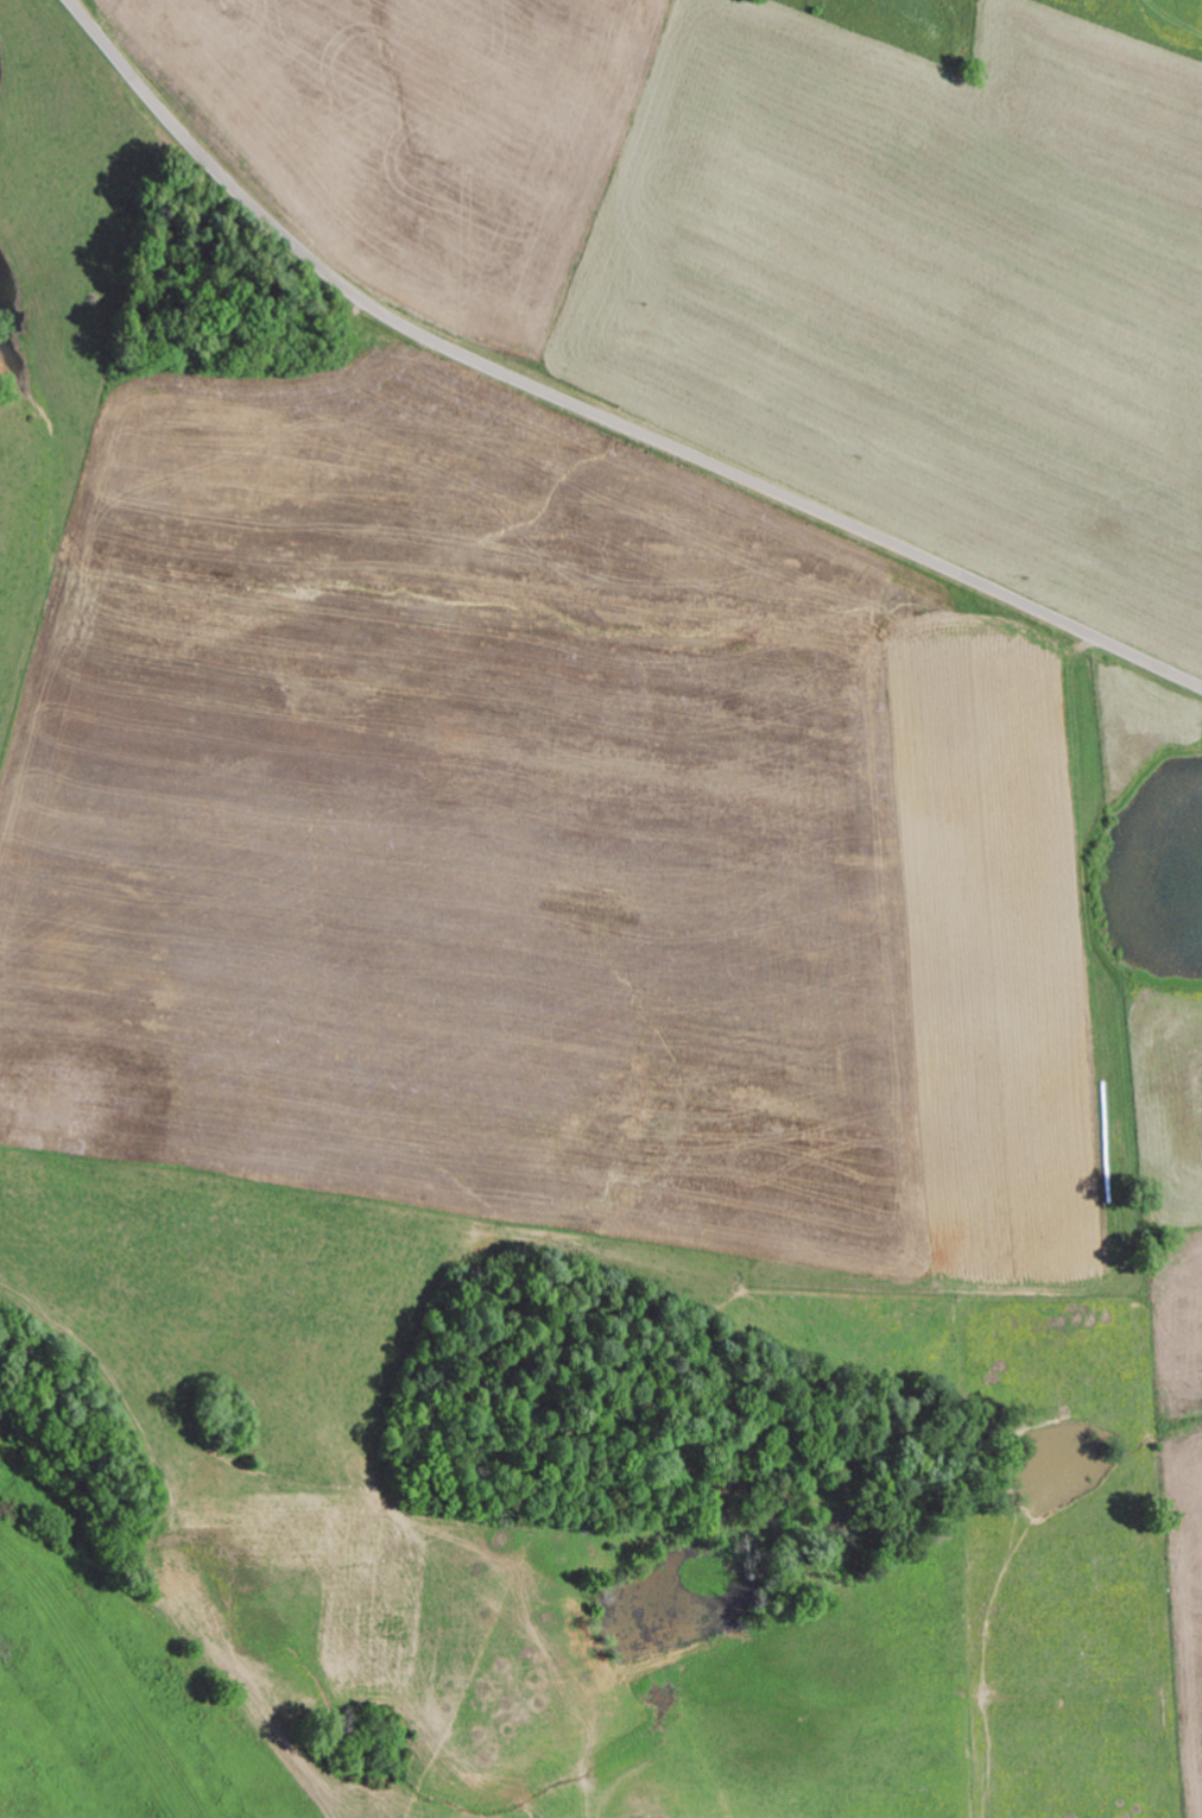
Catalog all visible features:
road: (588, 410)
road: (1170, 1716)

